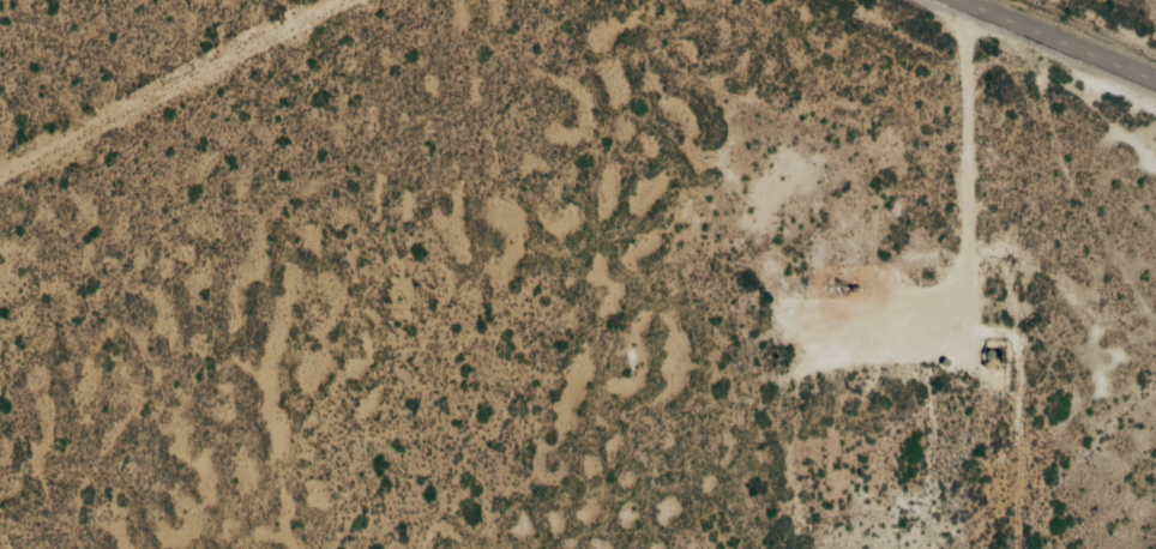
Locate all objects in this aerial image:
road: (1058, 41)

